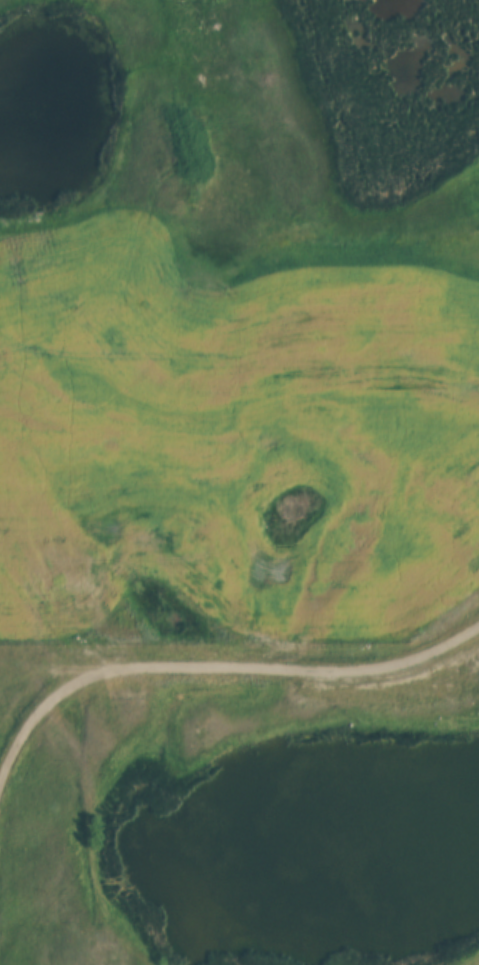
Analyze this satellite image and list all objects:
road: (253, 666)
road: (15, 752)

